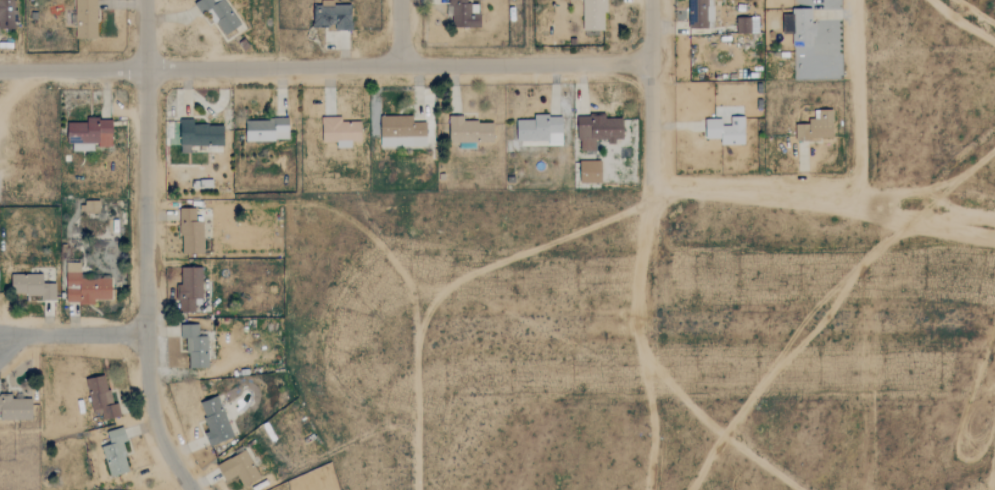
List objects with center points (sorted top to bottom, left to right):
building: (219, 13)
building: (464, 13)
building: (7, 14)
building: (594, 14)
building: (700, 14)
building: (332, 15)
building: (85, 19)
building: (747, 24)
building: (800, 27)
road: (401, 32)
road: (324, 65)
road: (650, 93)
road: (857, 102)
building: (817, 127)
building: (541, 129)
building: (267, 130)
building: (597, 130)
building: (726, 130)
building: (340, 131)
building: (401, 132)
building: (469, 132)
building: (89, 133)
building: (199, 135)
building: (590, 171)
road: (823, 200)
building: (91, 207)
building: (190, 232)
road: (146, 249)
building: (32, 286)
building: (84, 286)
building: (189, 289)
road: (72, 337)
building: (195, 346)
building: (101, 398)
building: (15, 408)
building: (215, 420)
building: (115, 453)
building: (238, 469)

